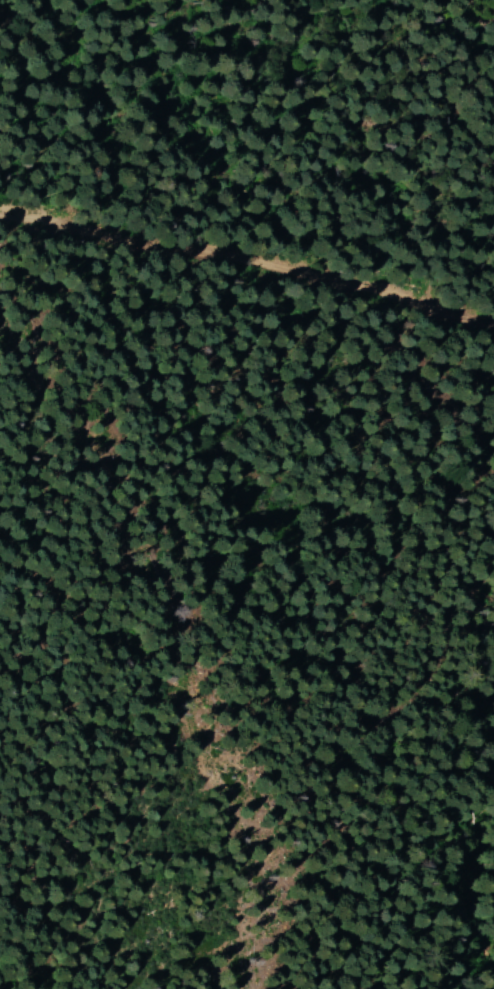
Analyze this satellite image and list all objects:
road: (248, 262)

